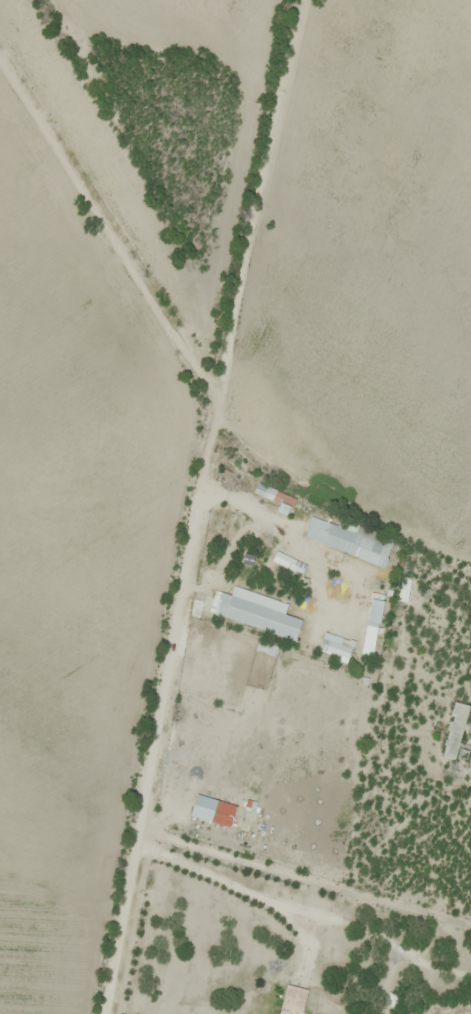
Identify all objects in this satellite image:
road: (110, 228)
road: (201, 505)
road: (306, 875)

